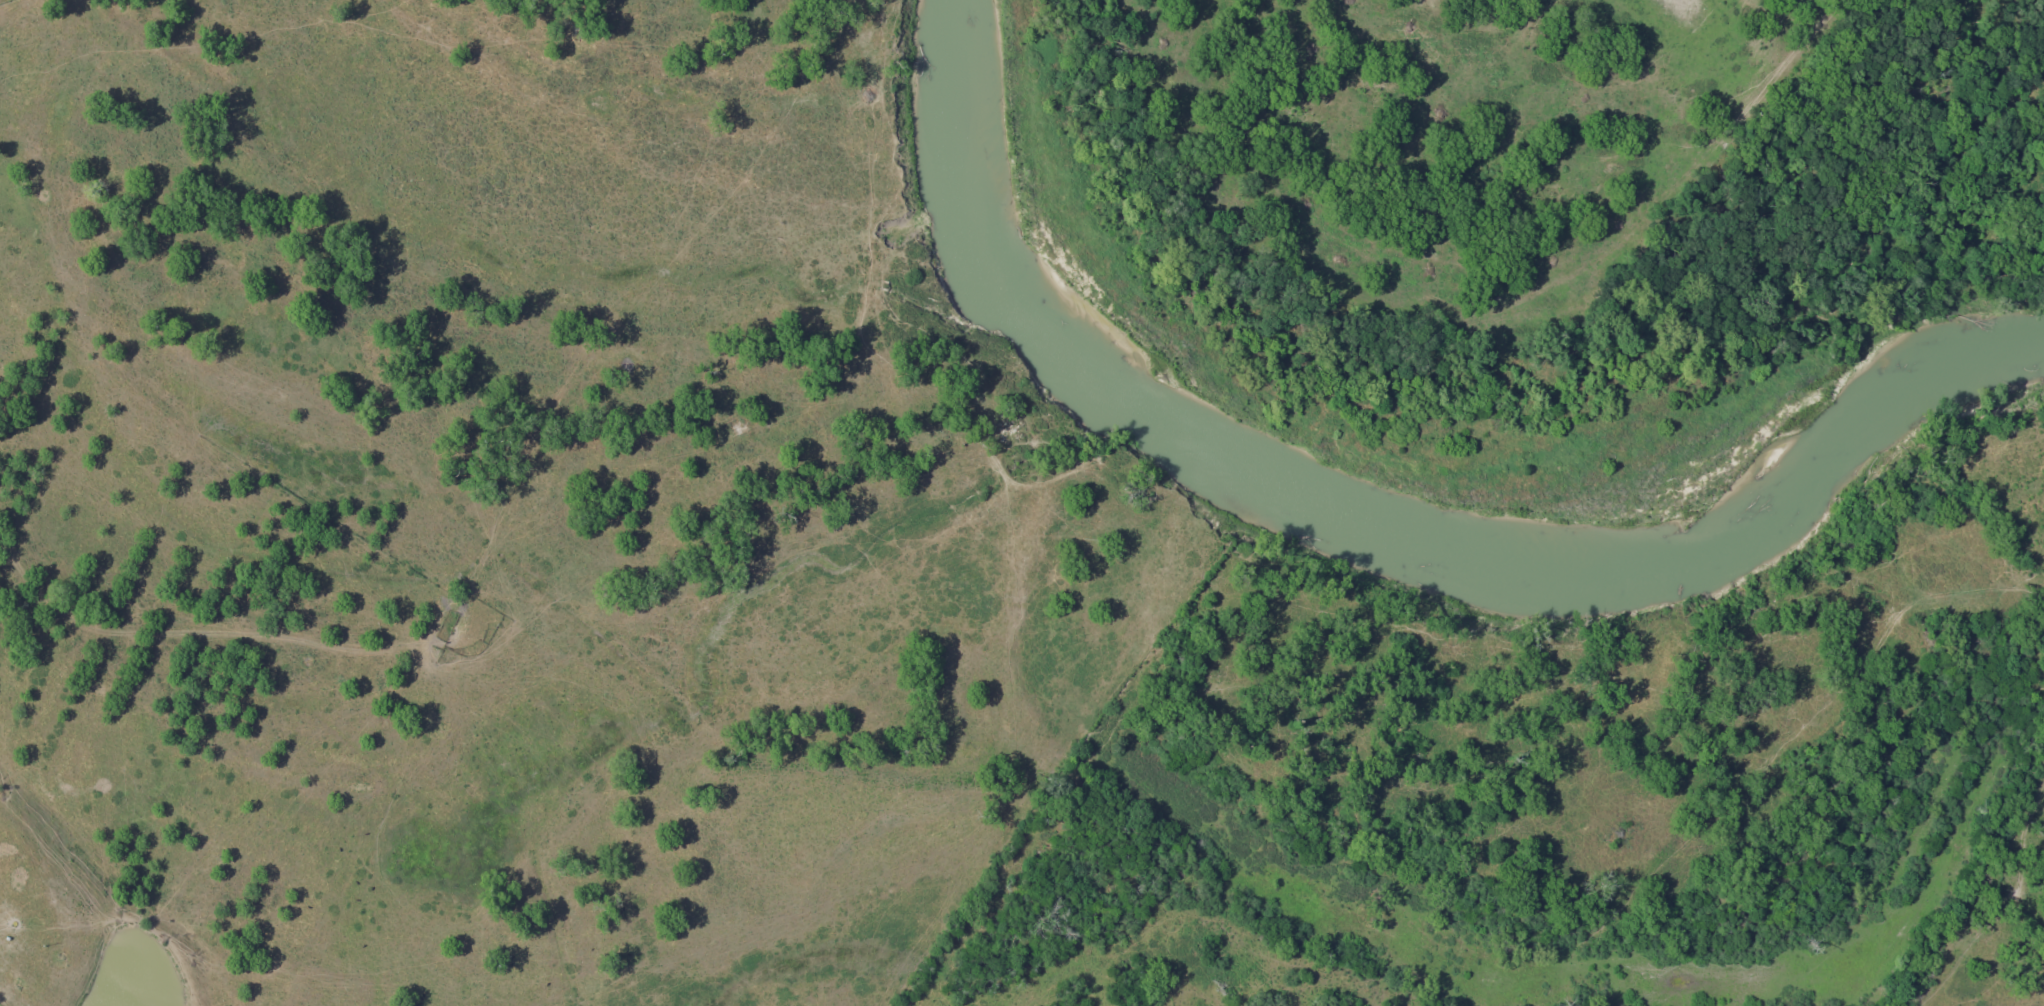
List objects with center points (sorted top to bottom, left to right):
river: (1383, 516)

